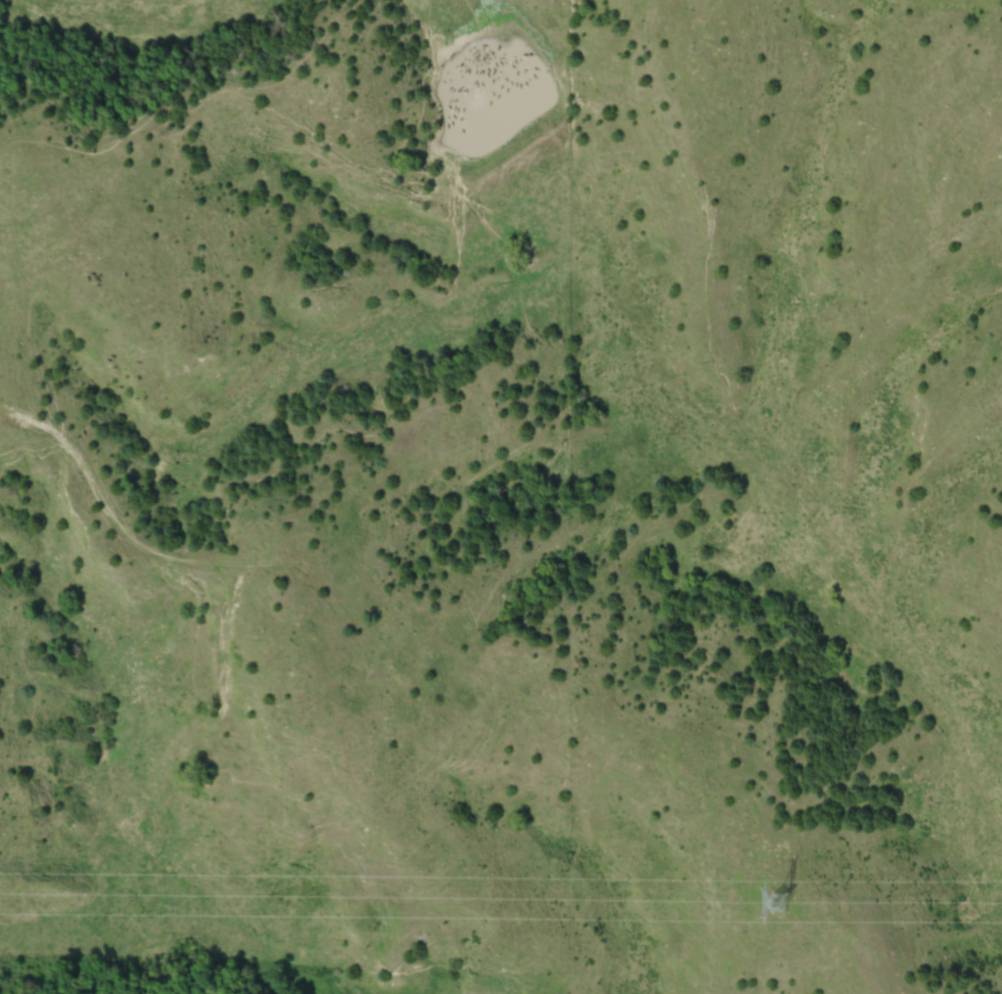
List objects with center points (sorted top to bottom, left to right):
power tower: (778, 903)

